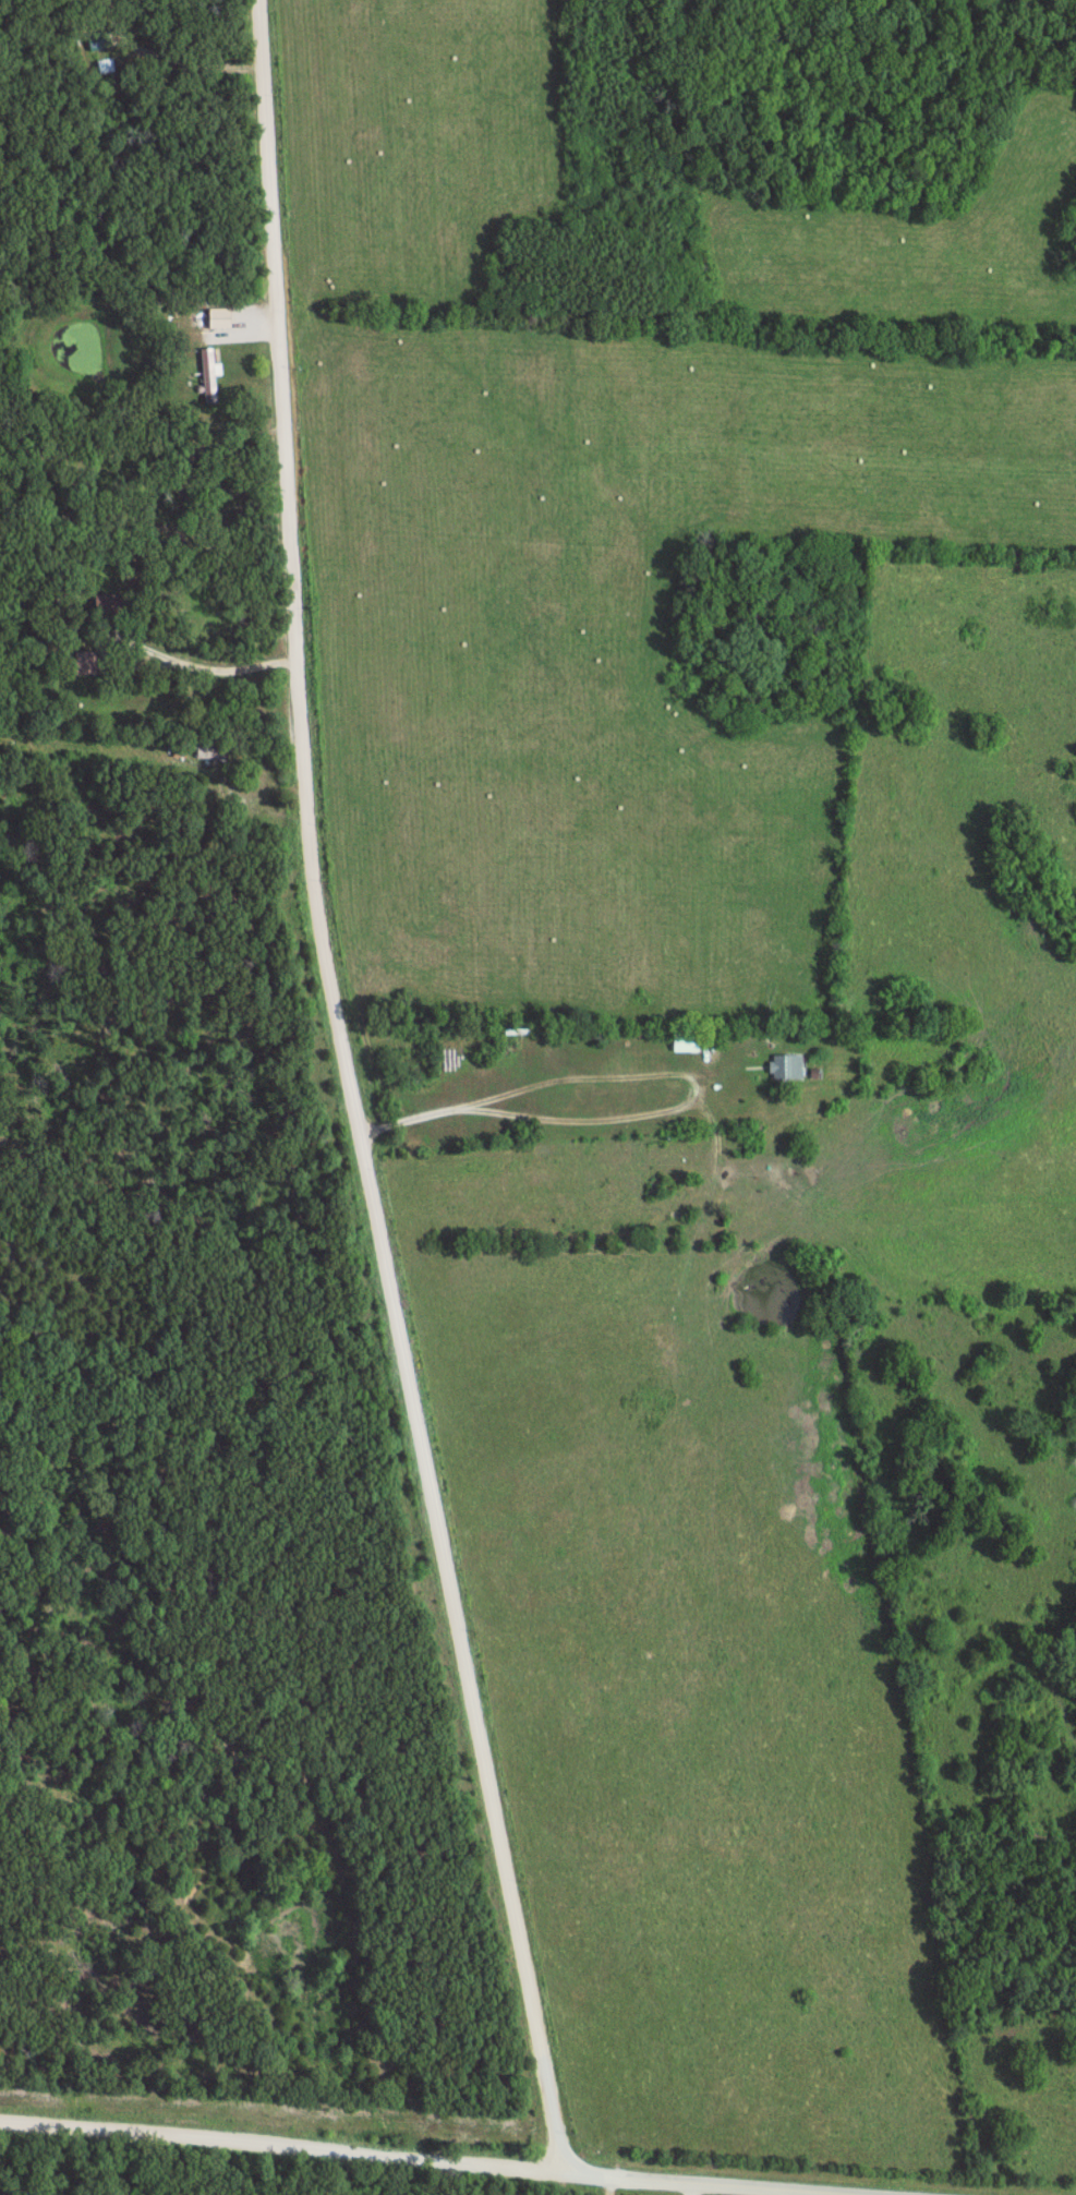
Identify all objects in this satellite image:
building: (210, 375)
building: (87, 662)
road: (207, 662)
building: (789, 1066)
road: (355, 1093)
road: (686, 1106)
road: (415, 1115)
road: (282, 2143)
road: (629, 2178)
road: (692, 2190)
road: (786, 2190)

